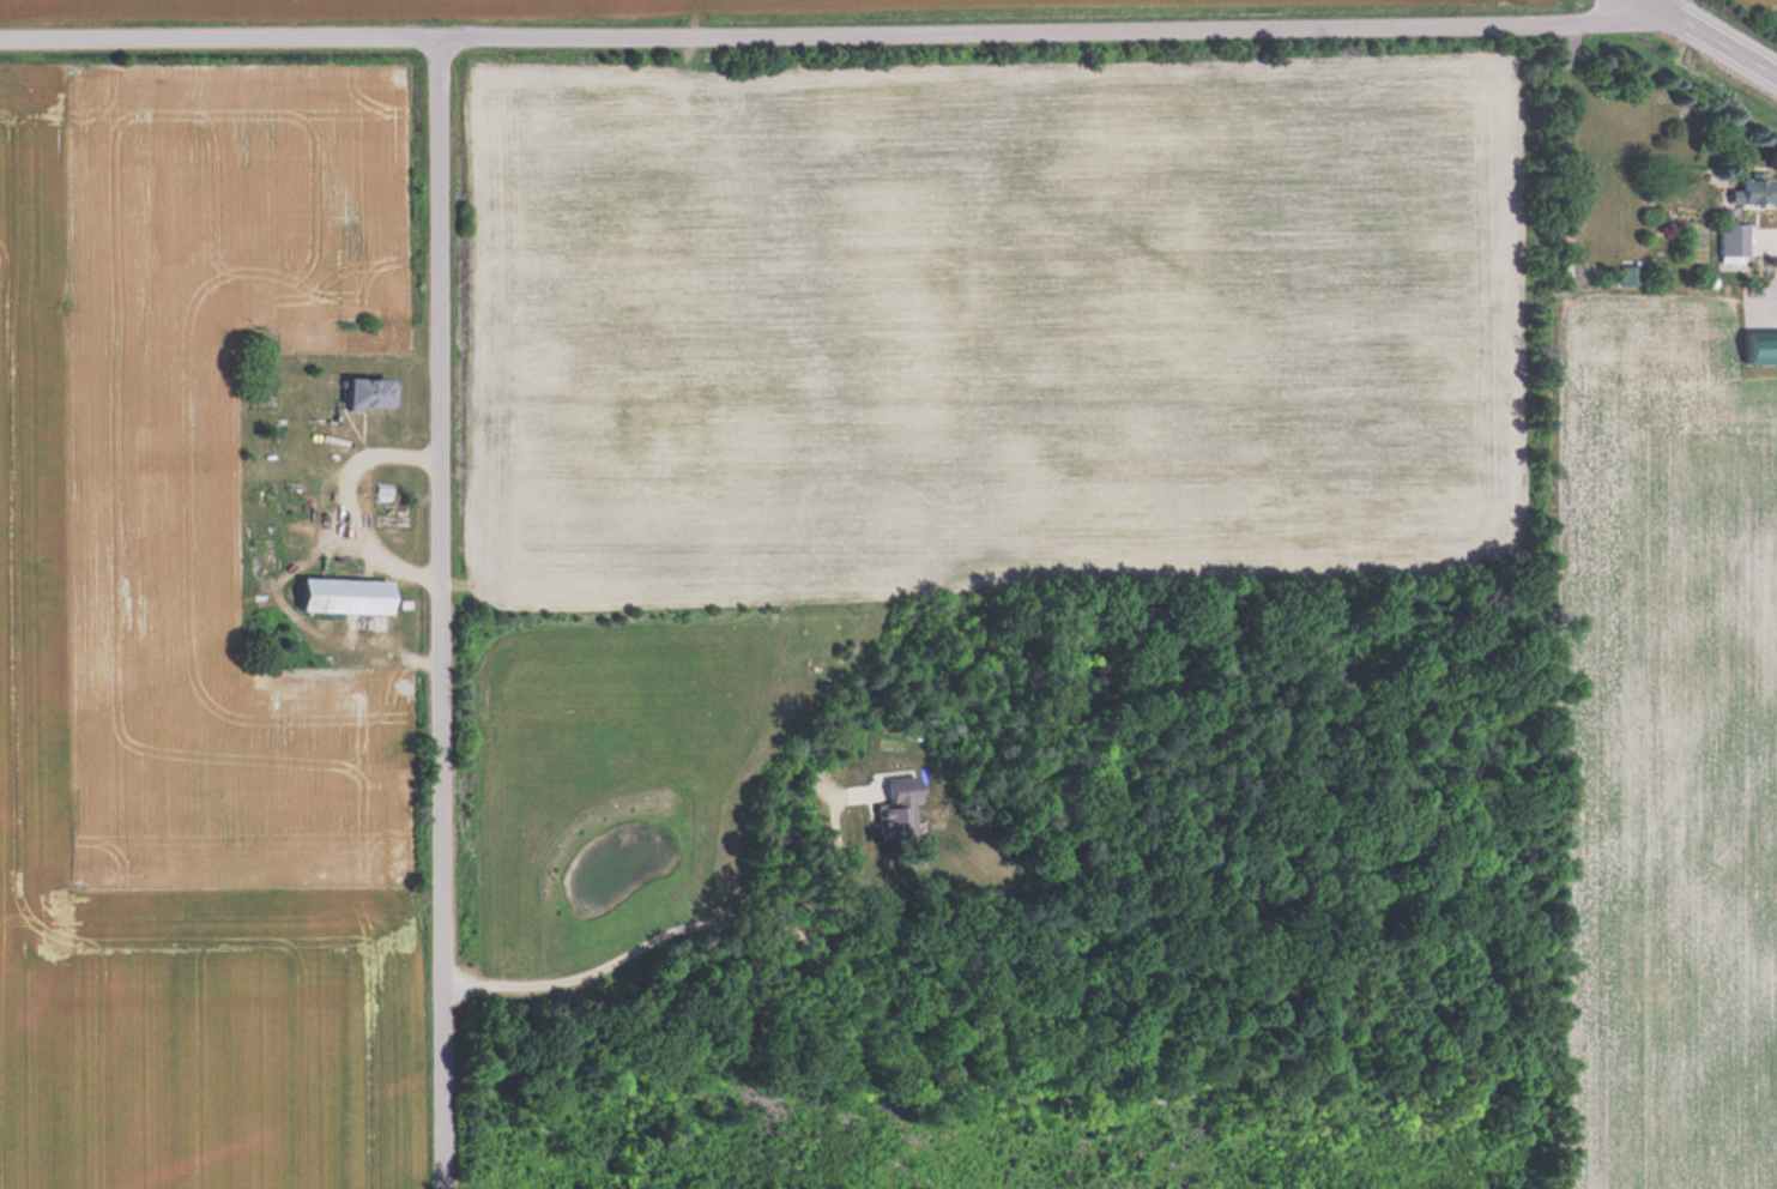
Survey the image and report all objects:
road: (1663, 7)
road: (833, 40)
road: (1708, 40)
road: (1764, 236)
building: (1734, 240)
building: (1630, 272)
building: (1760, 345)
building: (371, 392)
building: (294, 494)
building: (393, 515)
building: (265, 554)
building: (349, 594)
road: (443, 617)
building: (899, 809)
road: (696, 917)

